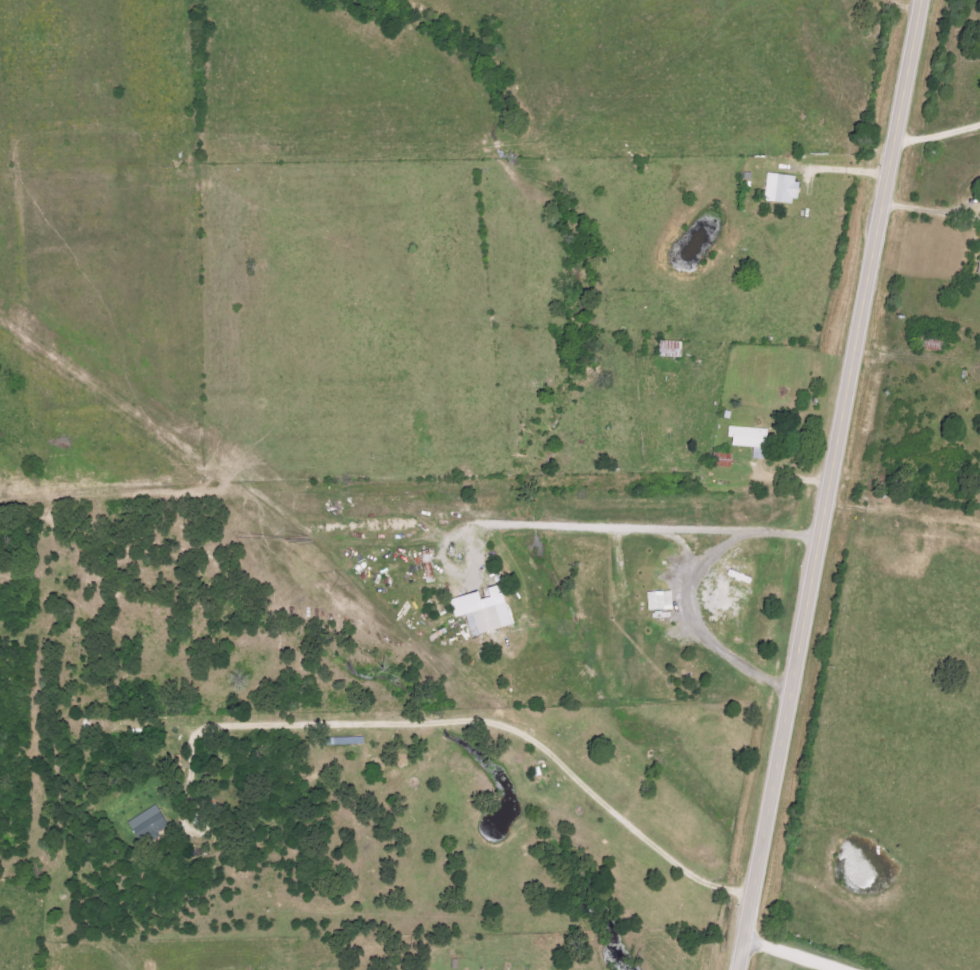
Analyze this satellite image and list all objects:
building: (779, 189)
building: (978, 268)
building: (747, 439)
road: (827, 484)
building: (427, 567)
building: (658, 601)
building: (480, 611)
building: (147, 824)
road: (790, 954)

